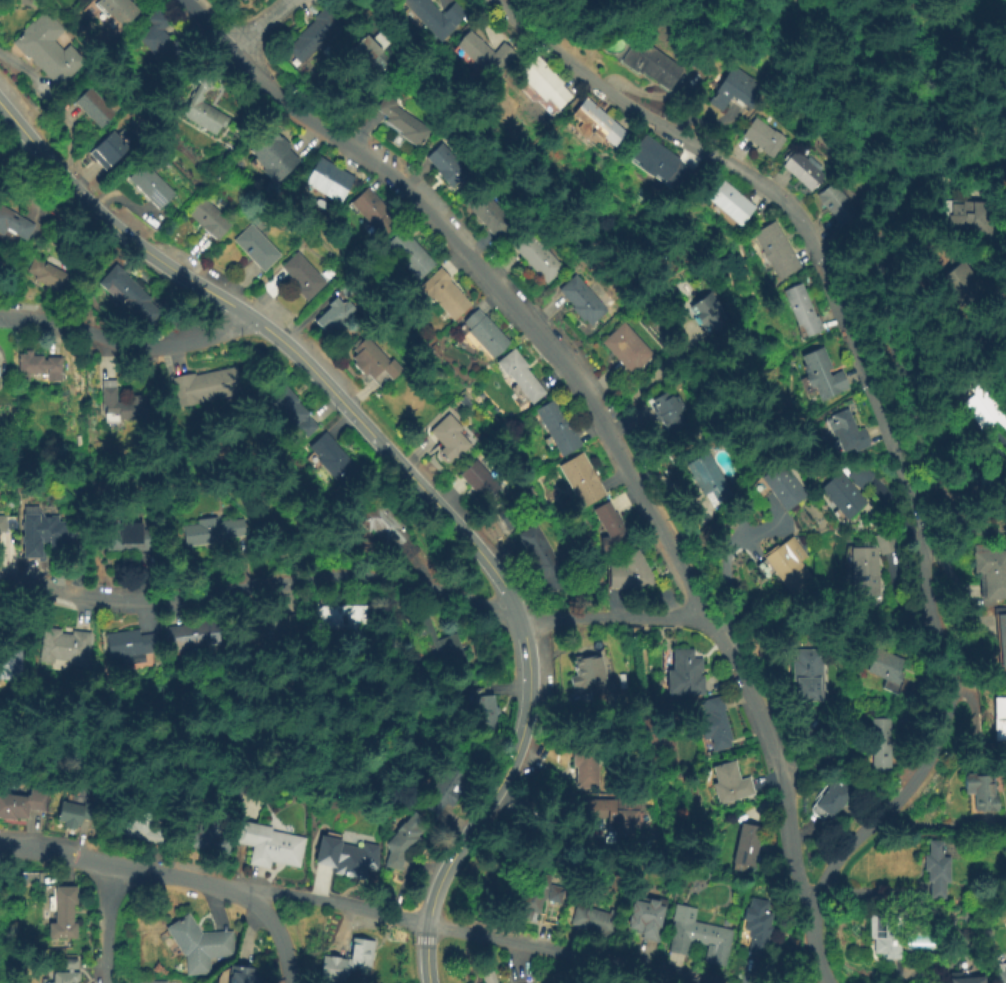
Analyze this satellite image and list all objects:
building: (239, 0)
building: (243, 0)
road: (370, 9)
building: (118, 11)
building: (432, 17)
road: (263, 23)
building: (313, 35)
building: (158, 37)
building: (47, 49)
building: (375, 52)
building: (483, 57)
building: (652, 66)
building: (542, 88)
building: (733, 90)
road: (843, 99)
building: (93, 108)
building: (203, 115)
building: (401, 122)
building: (597, 126)
building: (761, 137)
building: (105, 148)
building: (273, 158)
building: (448, 167)
building: (662, 168)
building: (802, 171)
building: (329, 181)
road: (757, 181)
road: (933, 182)
building: (150, 186)
building: (834, 204)
building: (729, 207)
building: (374, 212)
building: (490, 216)
building: (966, 218)
building: (209, 221)
building: (14, 224)
building: (255, 250)
building: (776, 252)
building: (408, 257)
building: (535, 257)
building: (329, 273)
building: (49, 275)
building: (302, 278)
building: (965, 288)
building: (444, 295)
building: (130, 297)
building: (582, 303)
road: (174, 306)
building: (801, 312)
building: (708, 315)
building: (335, 317)
road: (884, 329)
building: (486, 335)
road: (124, 342)
building: (625, 348)
building: (375, 366)
building: (38, 368)
building: (821, 377)
building: (520, 378)
road: (642, 384)
building: (206, 386)
road: (582, 394)
building: (121, 402)
building: (465, 402)
building: (289, 408)
building: (984, 409)
building: (670, 416)
building: (557, 429)
building: (847, 434)
building: (450, 439)
building: (332, 460)
building: (707, 478)
building: (580, 480)
road: (413, 481)
building: (480, 481)
building: (779, 486)
building: (846, 490)
building: (977, 491)
building: (505, 516)
building: (1000, 516)
building: (3, 525)
building: (381, 525)
building: (610, 528)
building: (212, 532)
building: (42, 534)
building: (127, 537)
building: (885, 542)
road: (733, 547)
building: (541, 558)
building: (784, 564)
building: (990, 572)
building: (630, 573)
building: (863, 573)
road: (259, 586)
road: (612, 605)
road: (614, 617)
building: (337, 619)
building: (264, 629)
building: (189, 636)
building: (999, 639)
building: (438, 643)
building: (62, 647)
building: (125, 647)
building: (9, 664)
building: (587, 670)
building: (885, 670)
building: (684, 673)
building: (804, 675)
building: (594, 691)
road: (950, 705)
building: (481, 713)
building: (999, 719)
building: (712, 724)
building: (879, 746)
building: (586, 767)
building: (729, 784)
building: (442, 788)
building: (981, 793)
building: (829, 800)
building: (22, 804)
building: (75, 813)
building: (615, 816)
building: (145, 827)
road: (802, 835)
building: (403, 839)
building: (208, 841)
building: (269, 846)
building: (746, 850)
building: (346, 857)
building: (936, 871)
building: (533, 891)
road: (345, 906)
building: (62, 914)
building: (645, 919)
building: (594, 922)
road: (101, 924)
building: (756, 926)
building: (884, 934)
road: (280, 937)
building: (697, 937)
road: (815, 943)
building: (199, 946)
road: (515, 960)
building: (347, 962)
building: (69, 971)
building: (1001, 972)
building: (243, 974)
building: (486, 977)
road: (634, 977)
building: (964, 978)
building: (150, 981)

